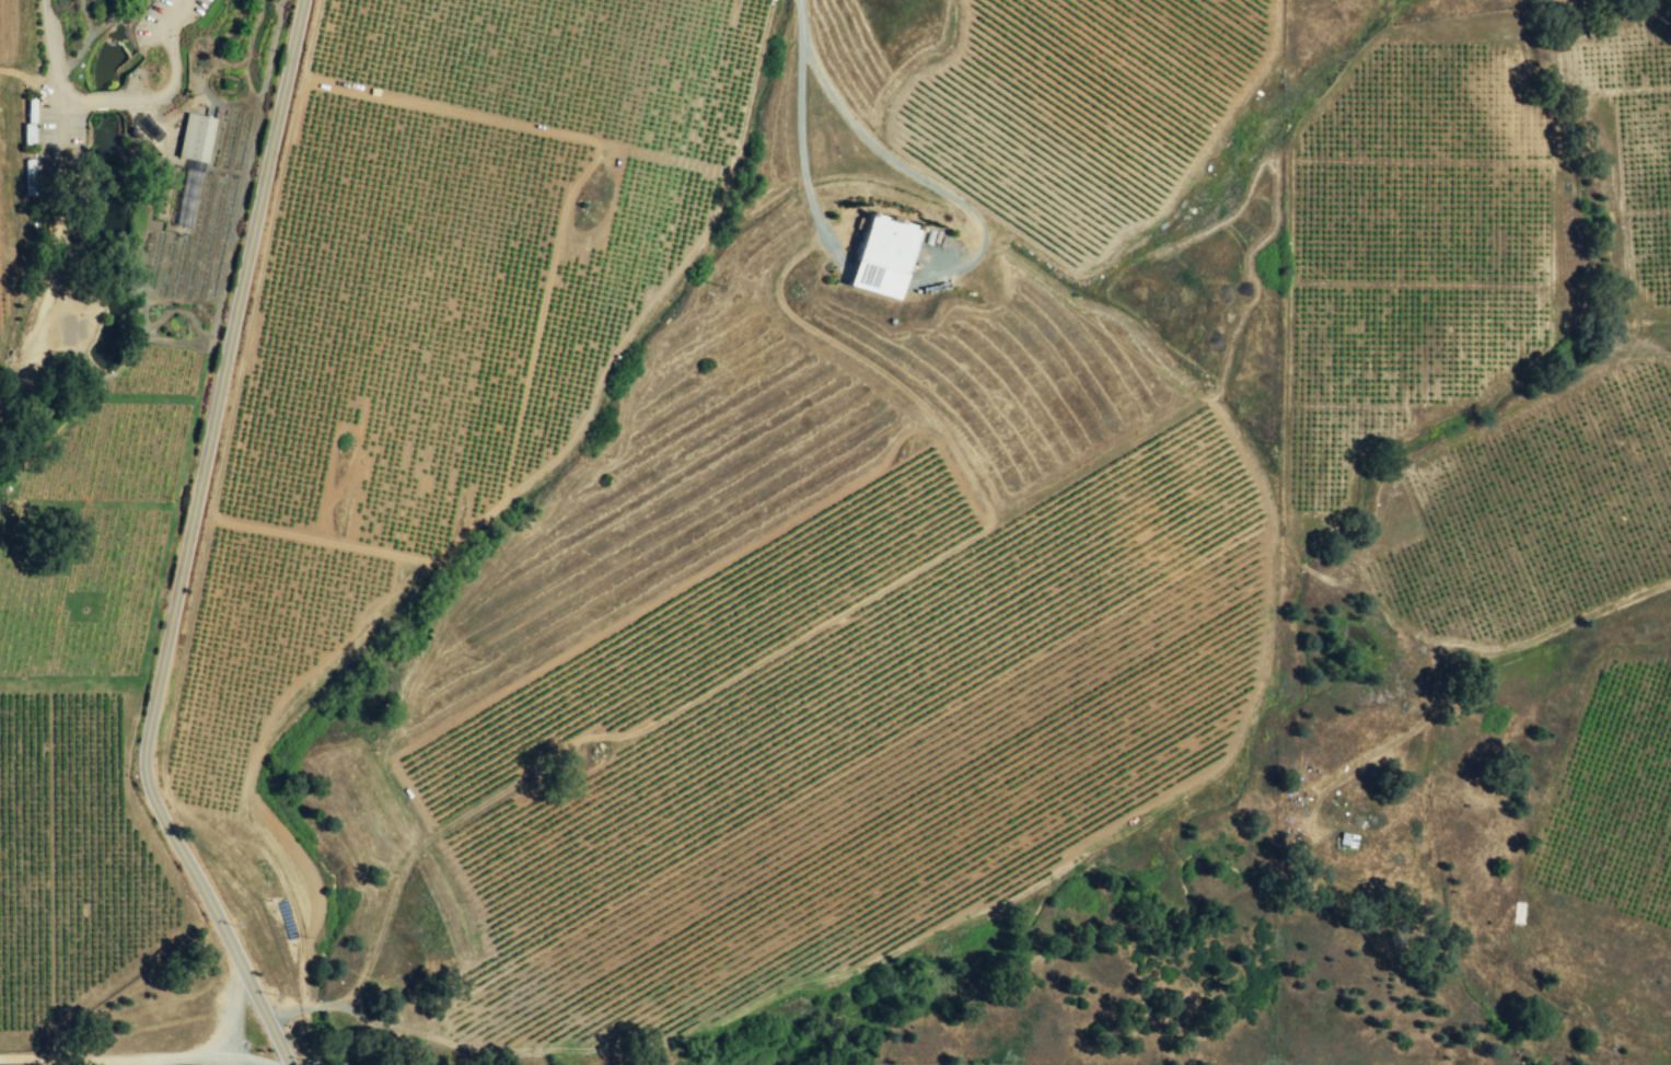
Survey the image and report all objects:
road: (169, 25)
road: (90, 102)
building: (147, 128)
road: (799, 128)
building: (25, 135)
building: (195, 138)
building: (26, 167)
building: (880, 256)
road: (210, 541)
road: (693, 1030)
road: (115, 1063)

